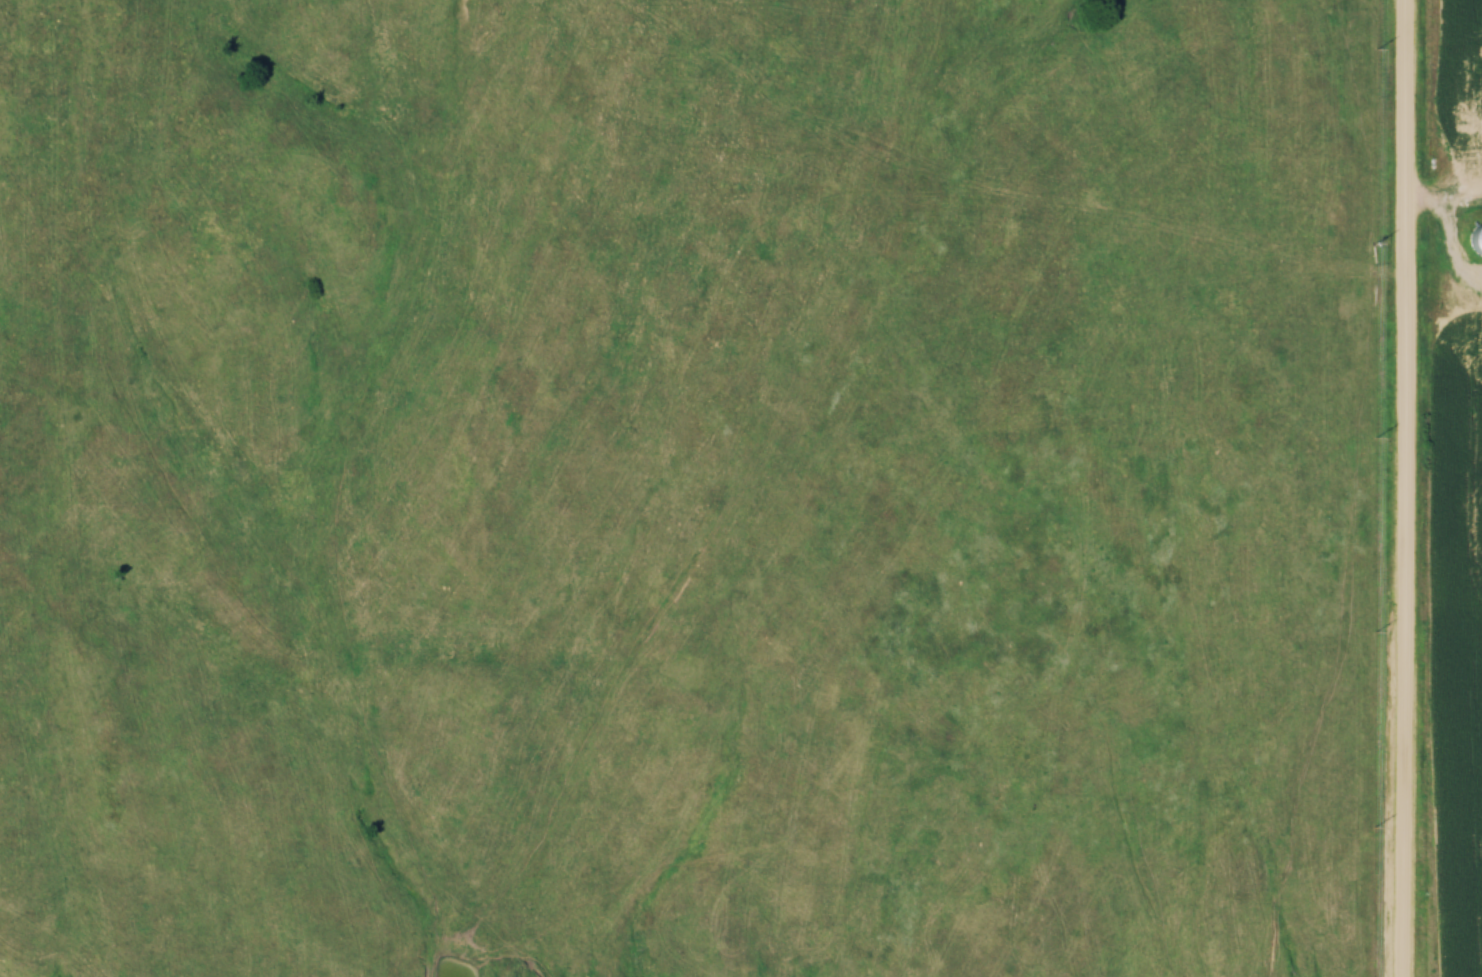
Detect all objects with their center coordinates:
road: (1405, 488)

